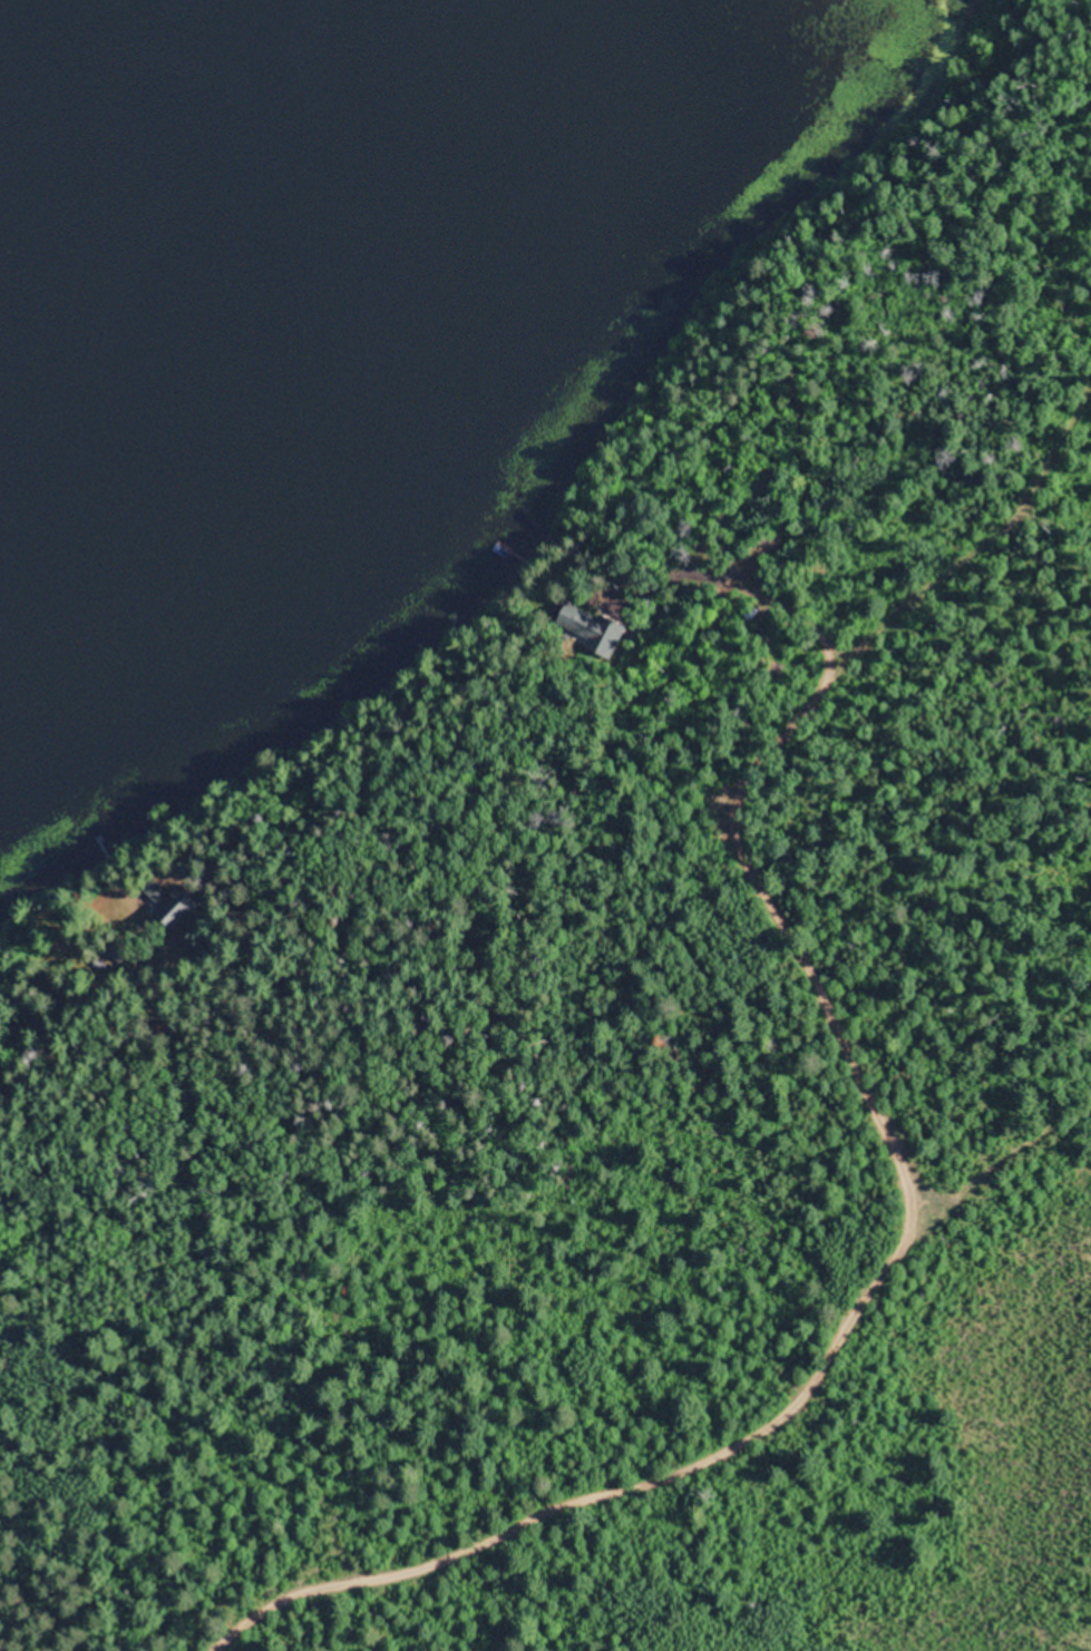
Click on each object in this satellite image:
building: (596, 627)
building: (179, 900)
building: (119, 949)
road: (633, 995)
road: (45, 997)
road: (871, 1102)

